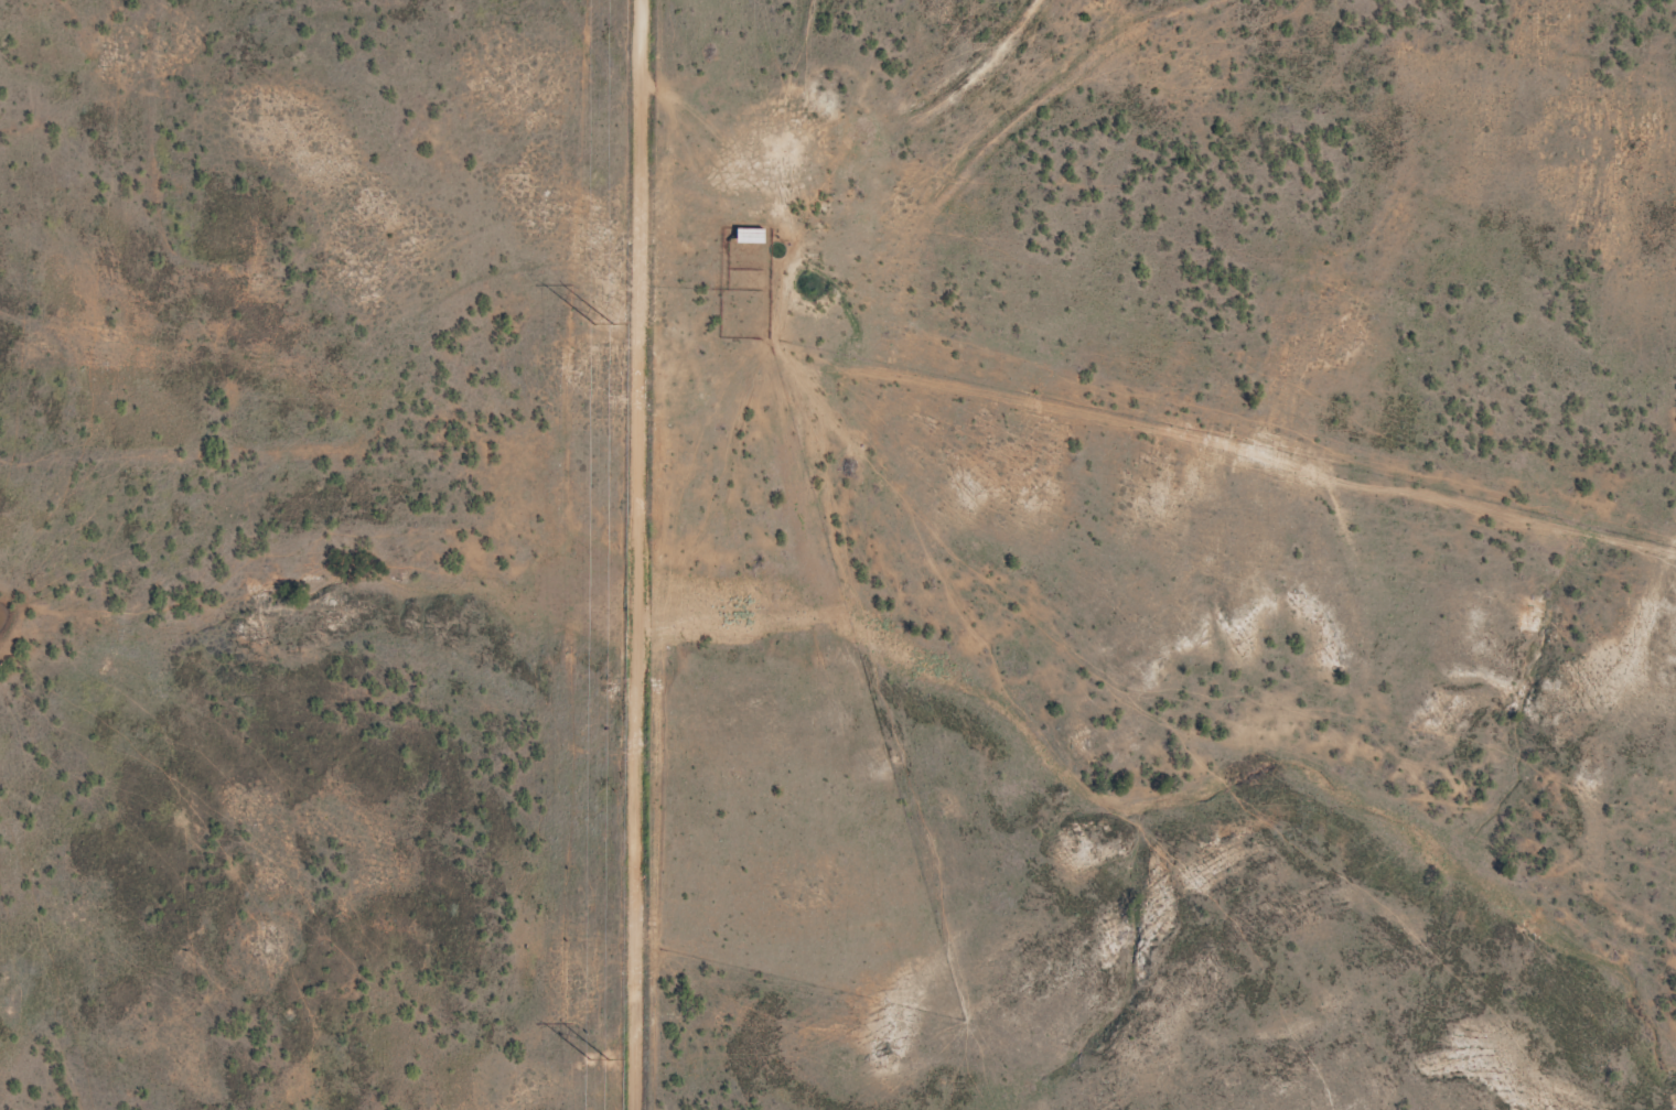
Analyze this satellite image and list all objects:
building: (753, 233)
power tower: (605, 330)
road: (644, 554)
power tower: (602, 1060)

